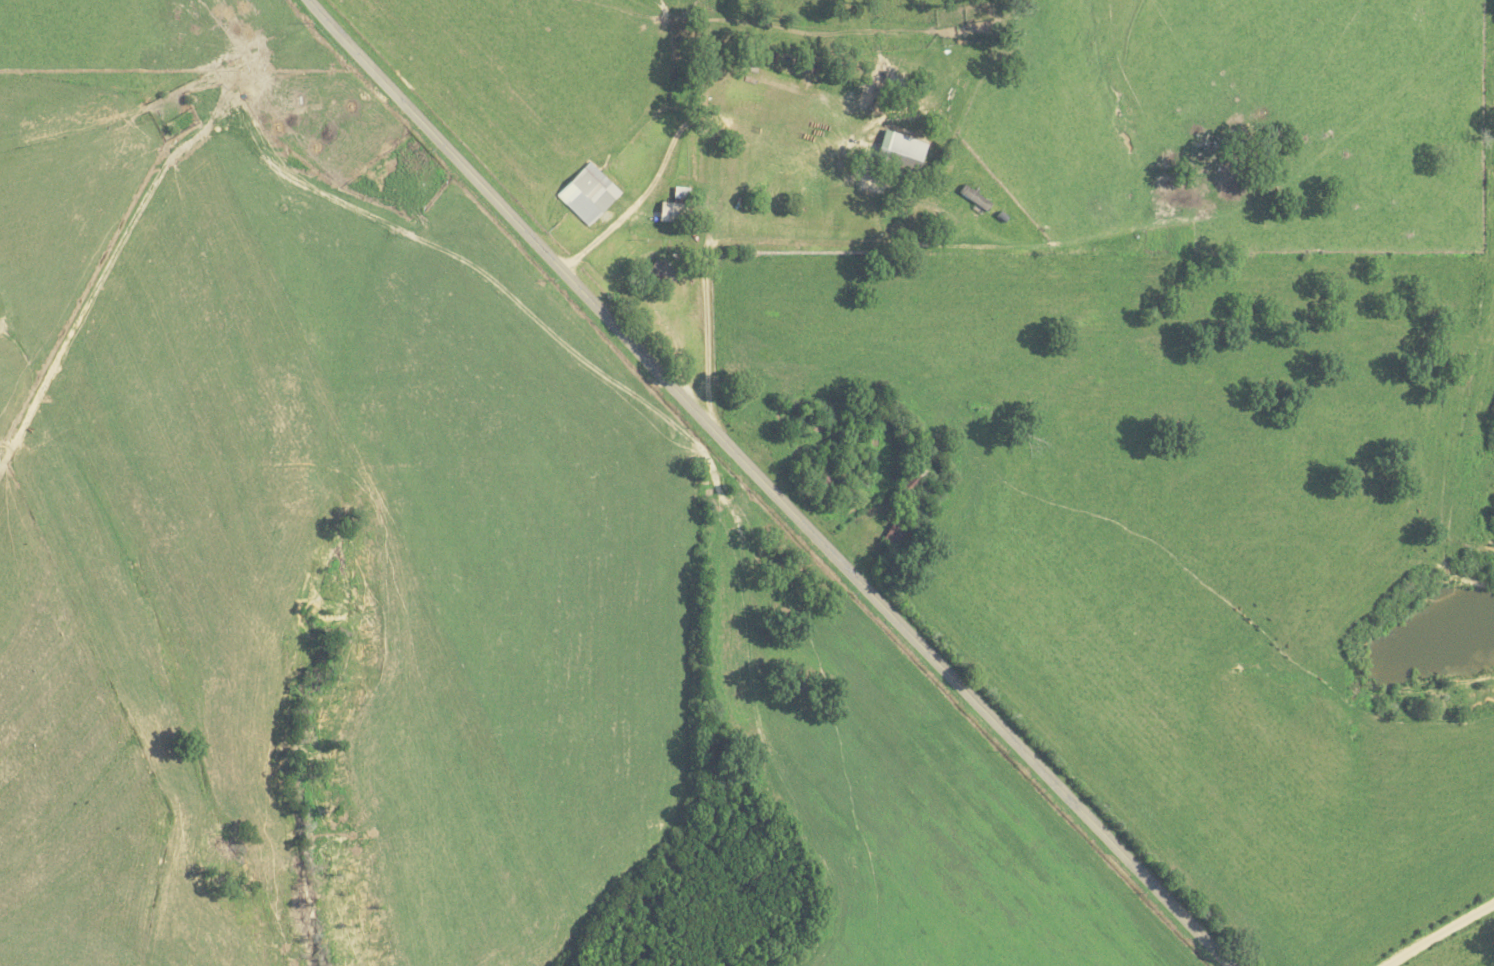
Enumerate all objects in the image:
building: (900, 150)
building: (679, 192)
building: (586, 193)
building: (973, 197)
building: (669, 211)
road: (765, 485)
road: (1438, 932)

